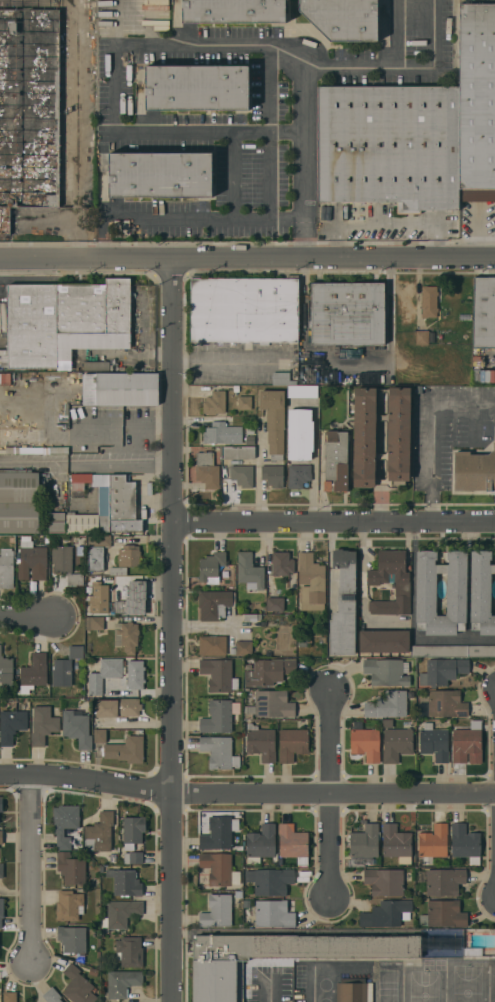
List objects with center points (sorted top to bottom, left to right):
building: (233, 11)
building: (156, 14)
building: (343, 18)
road: (397, 32)
road: (303, 63)
road: (26, 69)
road: (114, 88)
building: (197, 88)
road: (271, 91)
road: (52, 97)
building: (477, 102)
building: (28, 105)
building: (389, 146)
building: (160, 174)
road: (233, 177)
road: (287, 220)
road: (249, 222)
road: (247, 257)
building: (429, 301)
building: (244, 310)
building: (483, 312)
building: (347, 313)
building: (65, 320)
building: (422, 337)
road: (223, 363)
building: (95, 365)
building: (4, 378)
building: (282, 379)
building: (89, 388)
building: (127, 389)
building: (302, 391)
building: (244, 402)
building: (214, 403)
building: (274, 421)
building: (222, 433)
road: (432, 433)
building: (300, 434)
building: (397, 437)
building: (238, 452)
road: (314, 452)
building: (336, 461)
road: (59, 462)
road: (123, 462)
building: (208, 469)
building: (474, 470)
building: (272, 474)
building: (242, 475)
building: (298, 475)
building: (19, 502)
building: (122, 505)
building: (57, 522)
road: (335, 522)
building: (81, 523)
building: (96, 551)
building: (130, 555)
building: (31, 560)
building: (282, 563)
building: (66, 564)
building: (211, 567)
building: (6, 568)
building: (249, 571)
road: (361, 572)
building: (311, 582)
building: (388, 582)
building: (456, 592)
building: (481, 593)
building: (99, 598)
building: (133, 599)
building: (214, 604)
building: (275, 604)
building: (343, 605)
road: (28, 618)
building: (94, 622)
road: (173, 629)
building: (126, 636)
building: (384, 641)
building: (212, 645)
building: (242, 648)
building: (453, 651)
building: (65, 667)
building: (6, 671)
building: (269, 671)
building: (443, 671)
building: (386, 672)
building: (33, 673)
building: (104, 674)
building: (135, 674)
building: (219, 674)
building: (272, 704)
building: (443, 704)
building: (387, 705)
building: (117, 707)
building: (219, 716)
building: (11, 725)
building: (43, 725)
building: (77, 728)
building: (99, 735)
building: (434, 742)
building: (261, 743)
building: (366, 743)
building: (467, 743)
building: (292, 744)
building: (397, 744)
building: (126, 750)
building: (219, 752)
road: (247, 792)
road: (330, 795)
building: (1, 804)
building: (0, 813)
building: (65, 824)
building: (133, 831)
building: (99, 833)
building: (219, 833)
building: (1, 837)
building: (293, 843)
building: (396, 843)
building: (433, 843)
building: (465, 843)
building: (261, 844)
building: (364, 845)
building: (133, 857)
building: (71, 868)
building: (219, 869)
building: (1, 870)
road: (32, 871)
building: (270, 881)
building: (385, 881)
building: (444, 881)
building: (125, 882)
building: (69, 904)
building: (1, 911)
building: (217, 912)
building: (121, 913)
building: (273, 913)
building: (386, 913)
building: (444, 914)
building: (72, 939)
building: (450, 946)
building: (129, 952)
building: (279, 956)
building: (122, 982)
park: (467, 983)
building: (77, 986)
park: (424, 987)
road: (270, 989)
road: (313, 990)
building: (353, 990)
building: (52, 995)
building: (10, 996)

